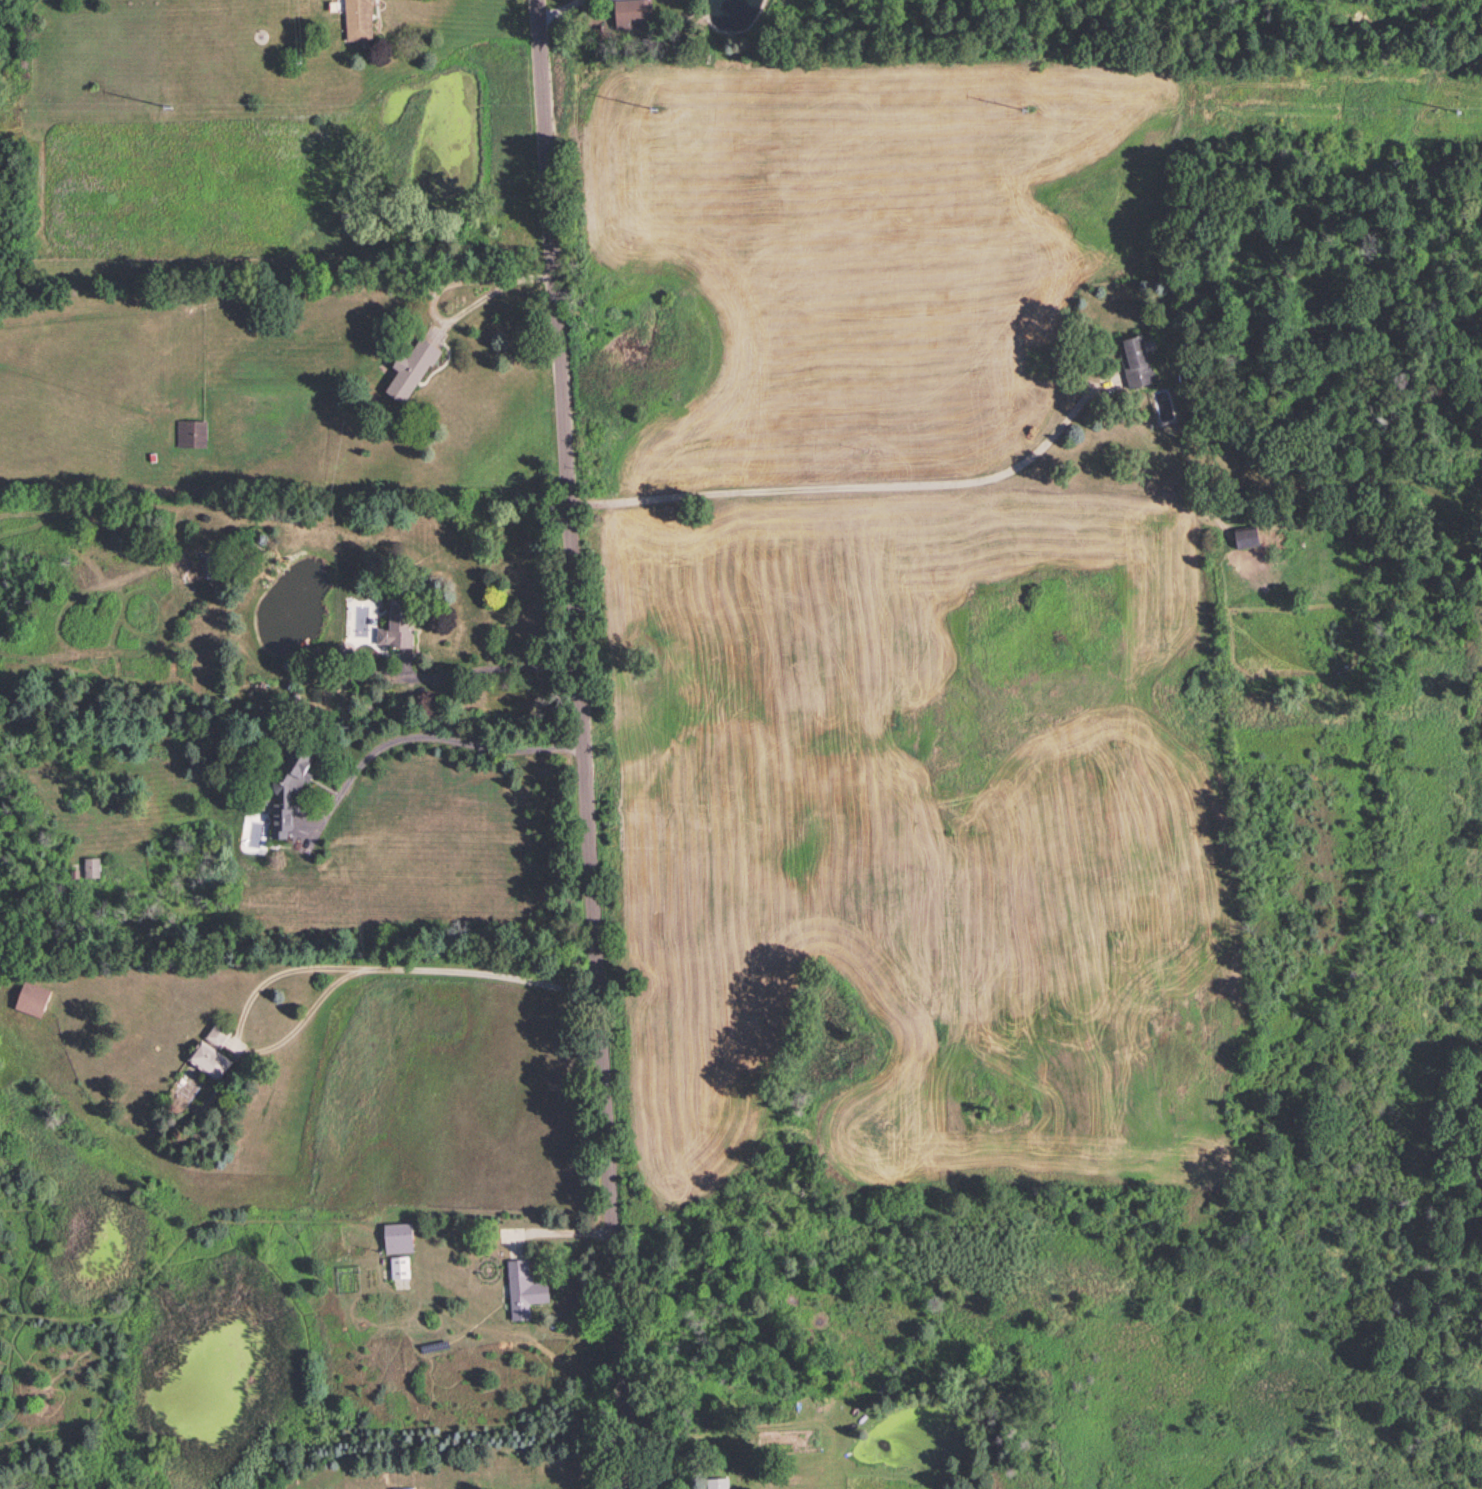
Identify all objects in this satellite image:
building: (632, 12)
building: (358, 19)
power tower: (660, 106)
power tower: (1030, 106)
power tower: (1465, 113)
power tower: (179, 114)
road: (504, 283)
building: (1136, 361)
building: (410, 368)
building: (191, 432)
road: (853, 486)
building: (1245, 535)
building: (212, 565)
building: (397, 624)
crop: (904, 644)
road: (491, 668)
road: (450, 737)
road: (584, 744)
building: (289, 788)
building: (91, 866)
road: (327, 988)
building: (32, 997)
building: (218, 1034)
building: (210, 1059)
road: (559, 1224)
building: (398, 1236)
building: (399, 1265)
building: (523, 1288)
building: (718, 1482)
building: (403, 1487)

